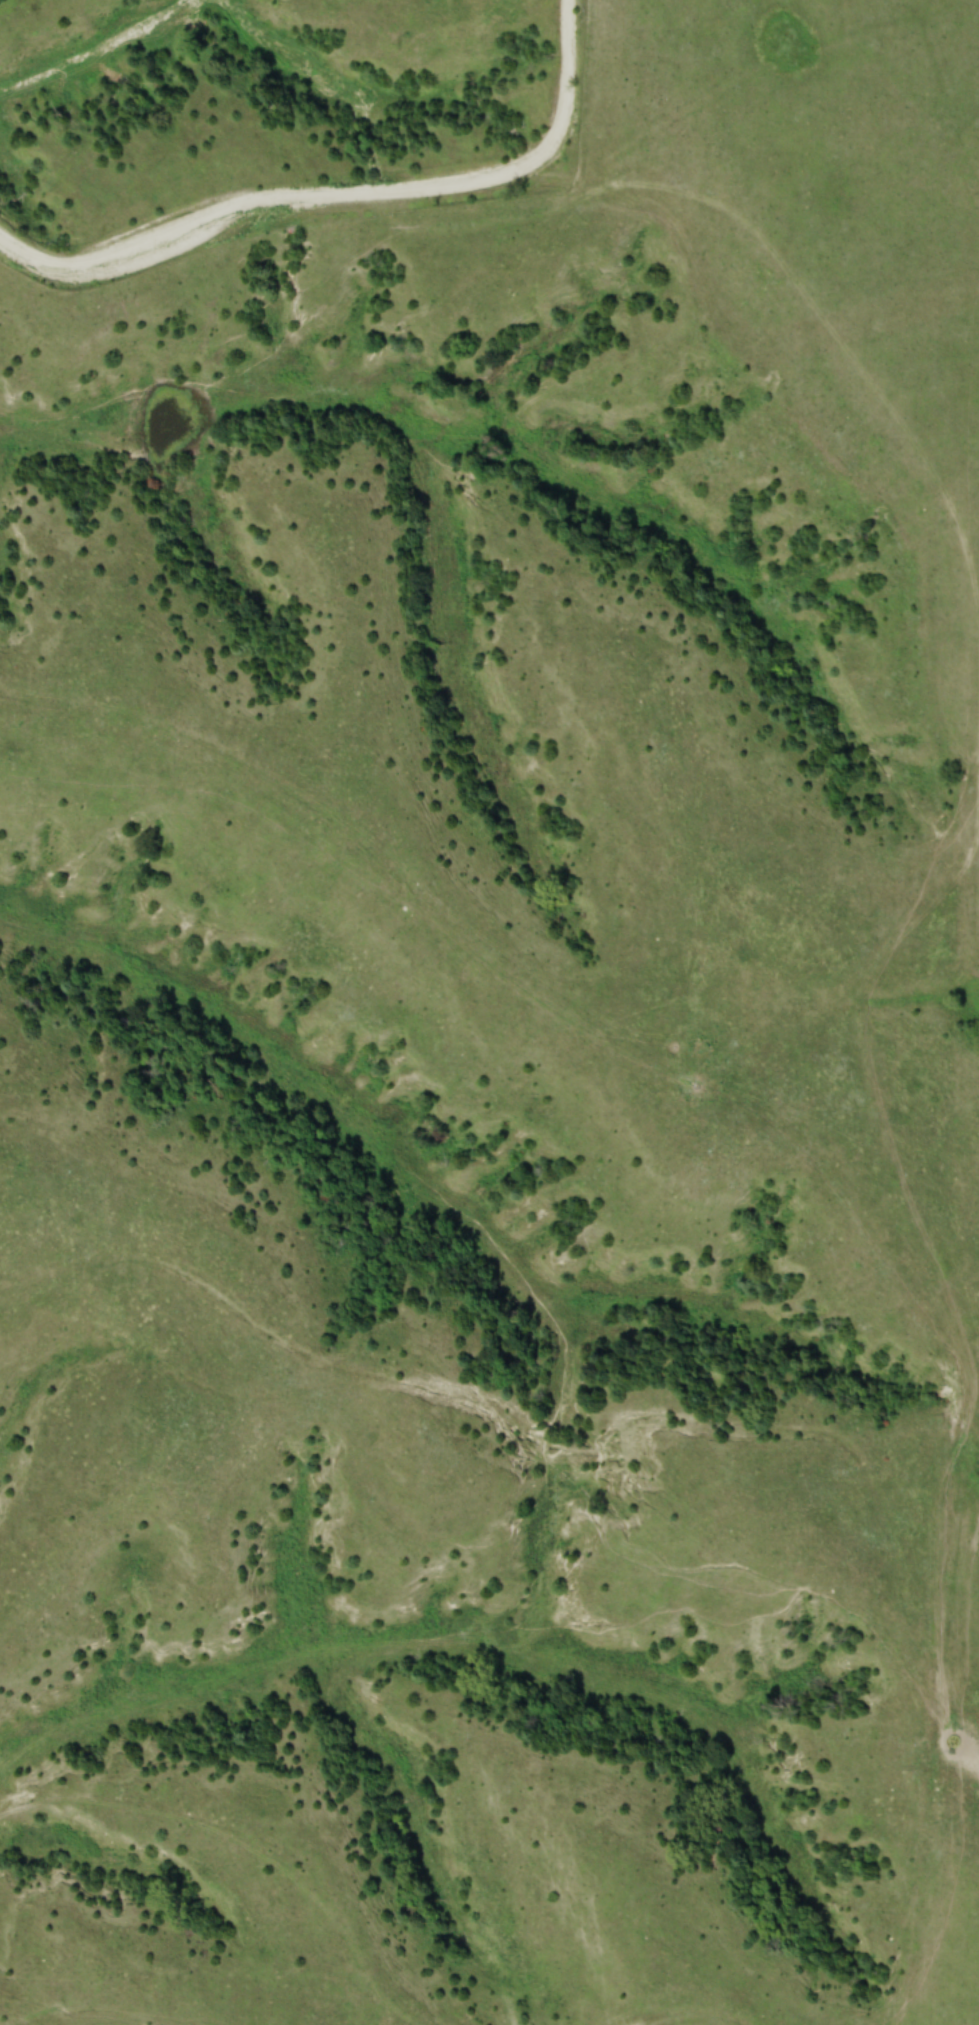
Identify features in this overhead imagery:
road: (345, 195)

